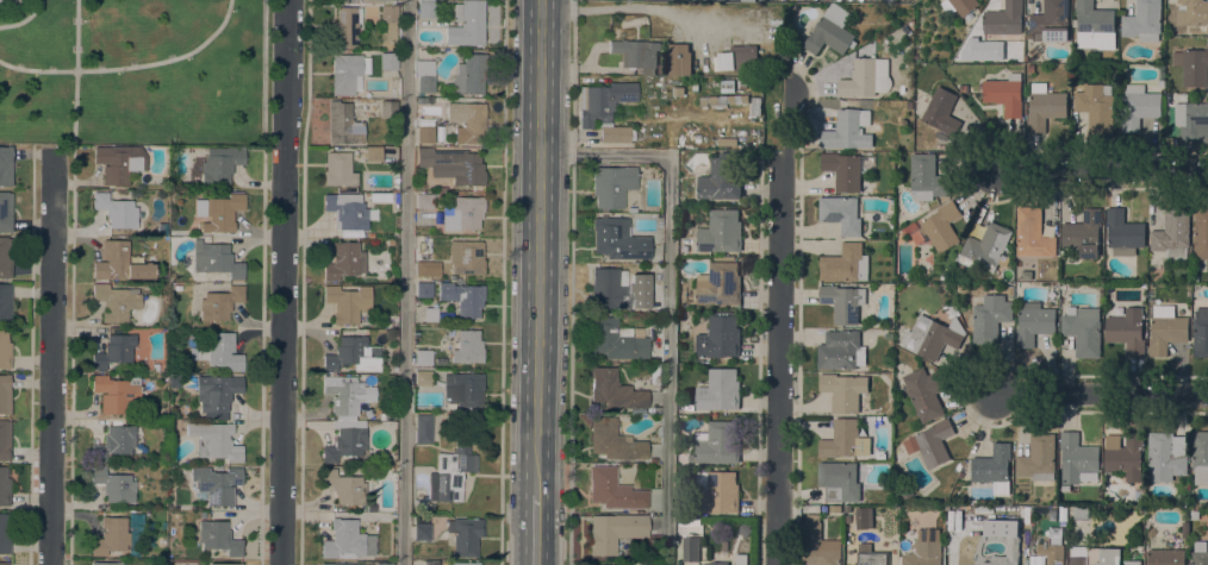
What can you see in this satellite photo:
building: (357, 0)
building: (388, 0)
building: (959, 7)
building: (425, 10)
building: (1193, 13)
road: (23, 19)
building: (1004, 19)
building: (1051, 21)
building: (1142, 21)
building: (388, 23)
building: (466, 25)
building: (1095, 26)
building: (345, 27)
building: (829, 32)
building: (636, 55)
building: (739, 58)
building: (679, 59)
building: (388, 62)
road: (129, 65)
building: (1193, 65)
building: (661, 69)
park: (131, 70)
building: (344, 74)
building: (424, 76)
building: (468, 76)
building: (866, 79)
road: (75, 82)
building: (742, 84)
building: (963, 88)
building: (1004, 94)
building: (722, 101)
building: (603, 102)
building: (755, 106)
building: (1044, 107)
building: (1096, 107)
building: (1138, 107)
building: (387, 109)
building: (941, 112)
building: (1193, 121)
building: (466, 123)
building: (342, 125)
building: (848, 130)
building: (616, 134)
building: (917, 134)
building: (424, 136)
building: (920, 146)
building: (373, 155)
building: (119, 163)
building: (219, 164)
building: (452, 165)
building: (5, 167)
road: (1101, 168)
building: (338, 170)
building: (842, 171)
road: (964, 171)
building: (926, 177)
building: (721, 178)
building: (611, 186)
building: (437, 195)
building: (424, 202)
building: (114, 211)
building: (4, 212)
building: (218, 212)
building: (345, 212)
building: (462, 214)
building: (840, 214)
building: (941, 226)
building: (910, 228)
building: (162, 230)
building: (721, 232)
building: (1083, 233)
building: (1123, 233)
building: (1033, 234)
building: (1172, 234)
building: (1200, 234)
building: (870, 237)
building: (617, 240)
building: (391, 243)
road: (537, 246)
building: (985, 247)
building: (684, 249)
building: (465, 257)
building: (4, 260)
building: (214, 260)
building: (1003, 260)
building: (342, 262)
building: (120, 263)
building: (845, 264)
building: (423, 270)
road: (284, 282)
road: (405, 282)
road: (504, 282)
road: (572, 282)
building: (718, 284)
building: (423, 290)
building: (614, 291)
road: (668, 295)
building: (461, 299)
building: (114, 302)
building: (5, 303)
building: (219, 303)
building: (347, 303)
building: (842, 303)
road: (797, 308)
building: (429, 315)
building: (990, 318)
road: (779, 324)
building: (1034, 324)
building: (1165, 329)
building: (1126, 331)
building: (1083, 332)
building: (1200, 333)
building: (932, 337)
building: (720, 338)
building: (616, 340)
building: (467, 349)
building: (4, 351)
building: (841, 351)
building: (113, 352)
building: (219, 352)
building: (349, 356)
building: (422, 358)
road: (759, 358)
road: (52, 360)
building: (156, 369)
building: (630, 373)
building: (653, 373)
building: (422, 378)
building: (463, 390)
building: (718, 390)
building: (614, 391)
building: (843, 391)
road: (961, 391)
building: (116, 393)
building: (216, 393)
building: (924, 393)
building: (4, 395)
road: (1101, 395)
building: (345, 396)
building: (365, 414)
building: (382, 418)
building: (422, 429)
building: (845, 440)
building: (4, 441)
building: (214, 441)
building: (344, 441)
building: (612, 441)
building: (934, 442)
building: (113, 444)
building: (717, 444)
building: (1123, 456)
building: (1165, 456)
building: (1200, 457)
building: (1038, 458)
building: (1076, 458)
building: (992, 469)
building: (449, 473)
building: (839, 482)
building: (216, 484)
building: (113, 485)
building: (4, 488)
building: (344, 488)
building: (612, 491)
building: (904, 491)
building: (715, 492)
building: (835, 509)
building: (847, 509)
building: (1194, 515)
building: (864, 519)
building: (997, 523)
building: (977, 527)
road: (535, 529)
building: (743, 529)
building: (614, 532)
building: (4, 533)
building: (421, 533)
building: (110, 536)
building: (463, 536)
building: (217, 538)
building: (347, 540)
building: (817, 544)
building: (691, 548)
building: (923, 550)
building: (1051, 552)
building: (1198, 553)
building: (1094, 555)
building: (870, 557)
building: (1165, 557)
building: (731, 560)
building: (1003, 560)
building: (430, 563)
building: (716, 563)
building: (1132, 563)
building: (4, 564)
building: (106, 564)
building: (224, 564)
building: (336, 564)
building: (384, 564)
building: (462, 564)

